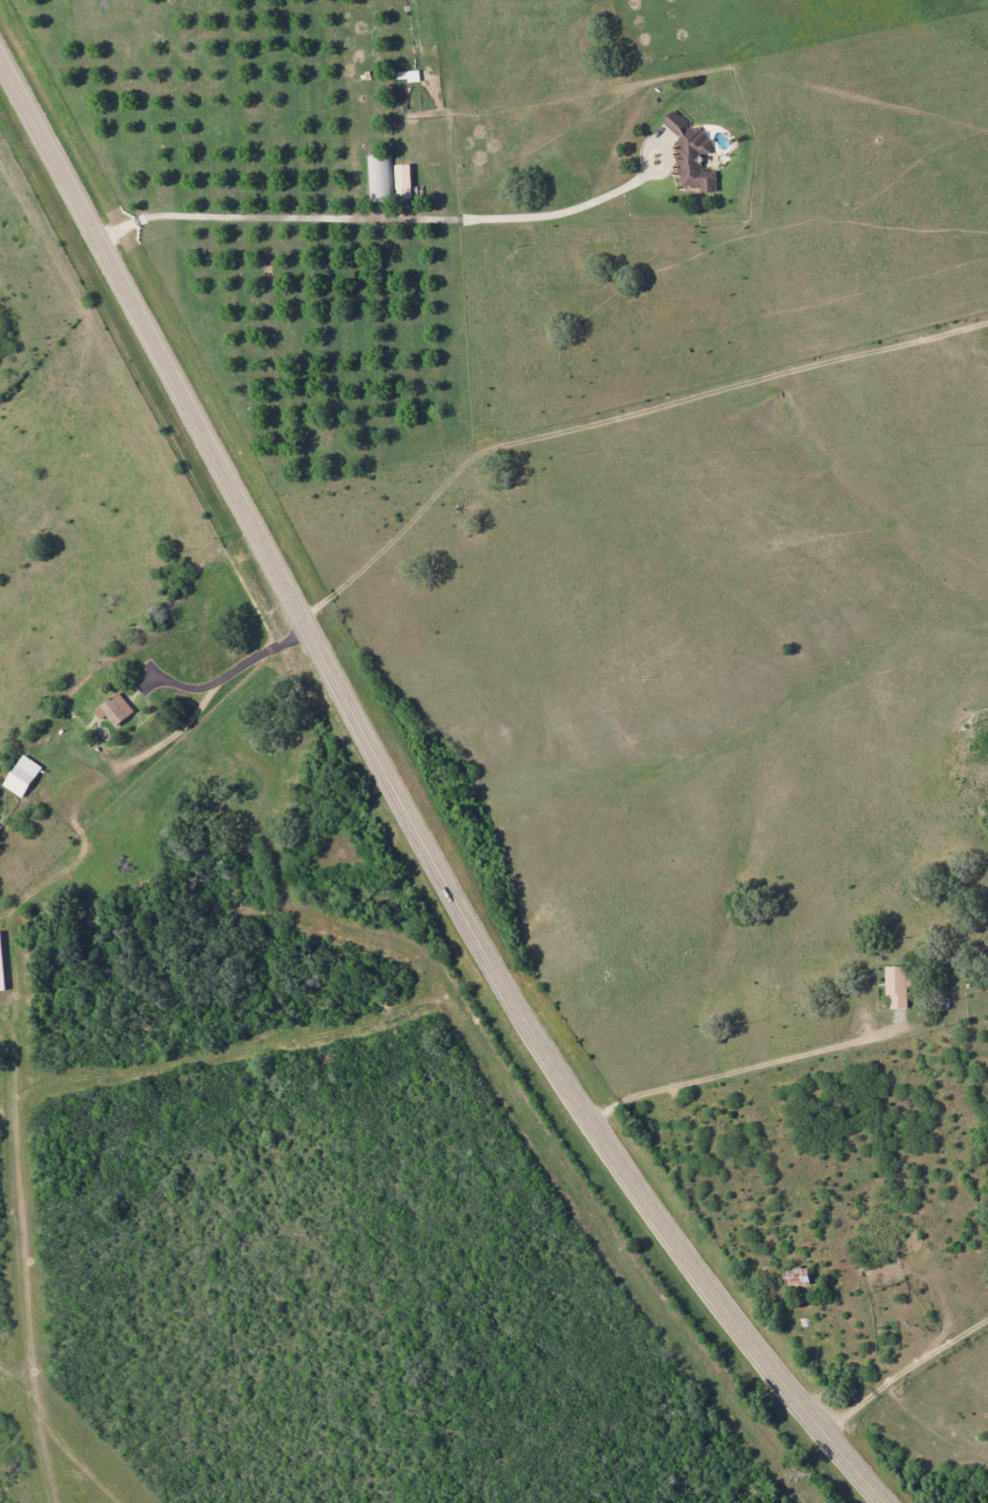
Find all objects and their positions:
building: (691, 156)
building: (401, 177)
building: (378, 179)
road: (571, 687)
building: (113, 710)
building: (20, 776)
road: (404, 806)
building: (0, 977)
building: (895, 987)
road: (812, 1189)
building: (796, 1278)
road: (687, 1441)

